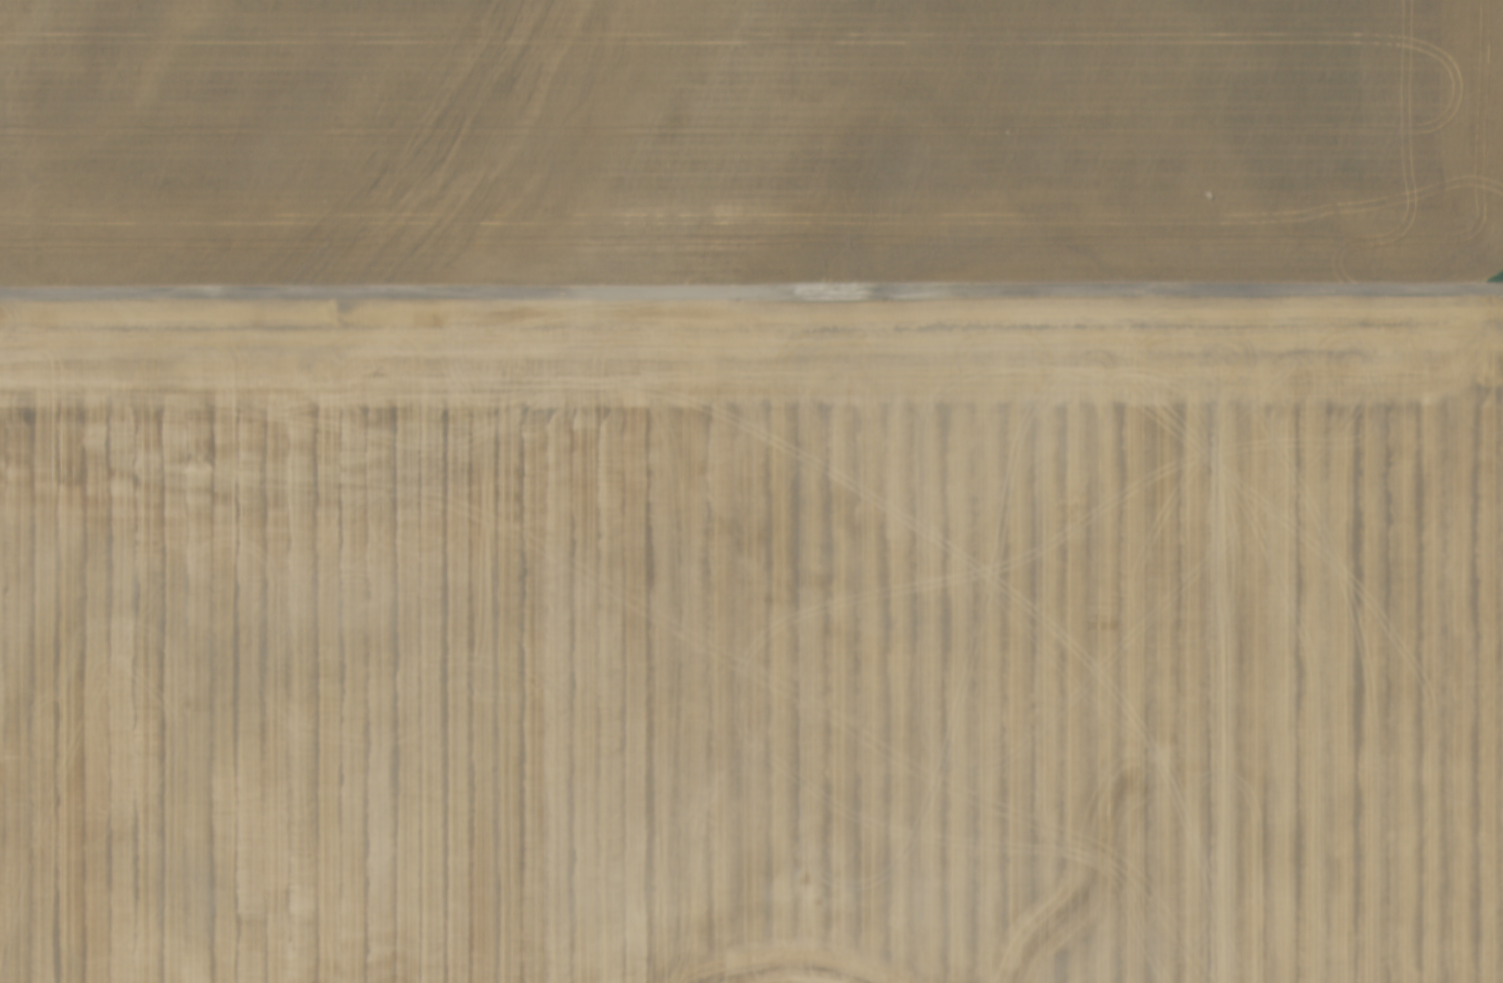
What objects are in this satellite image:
road: (751, 288)

